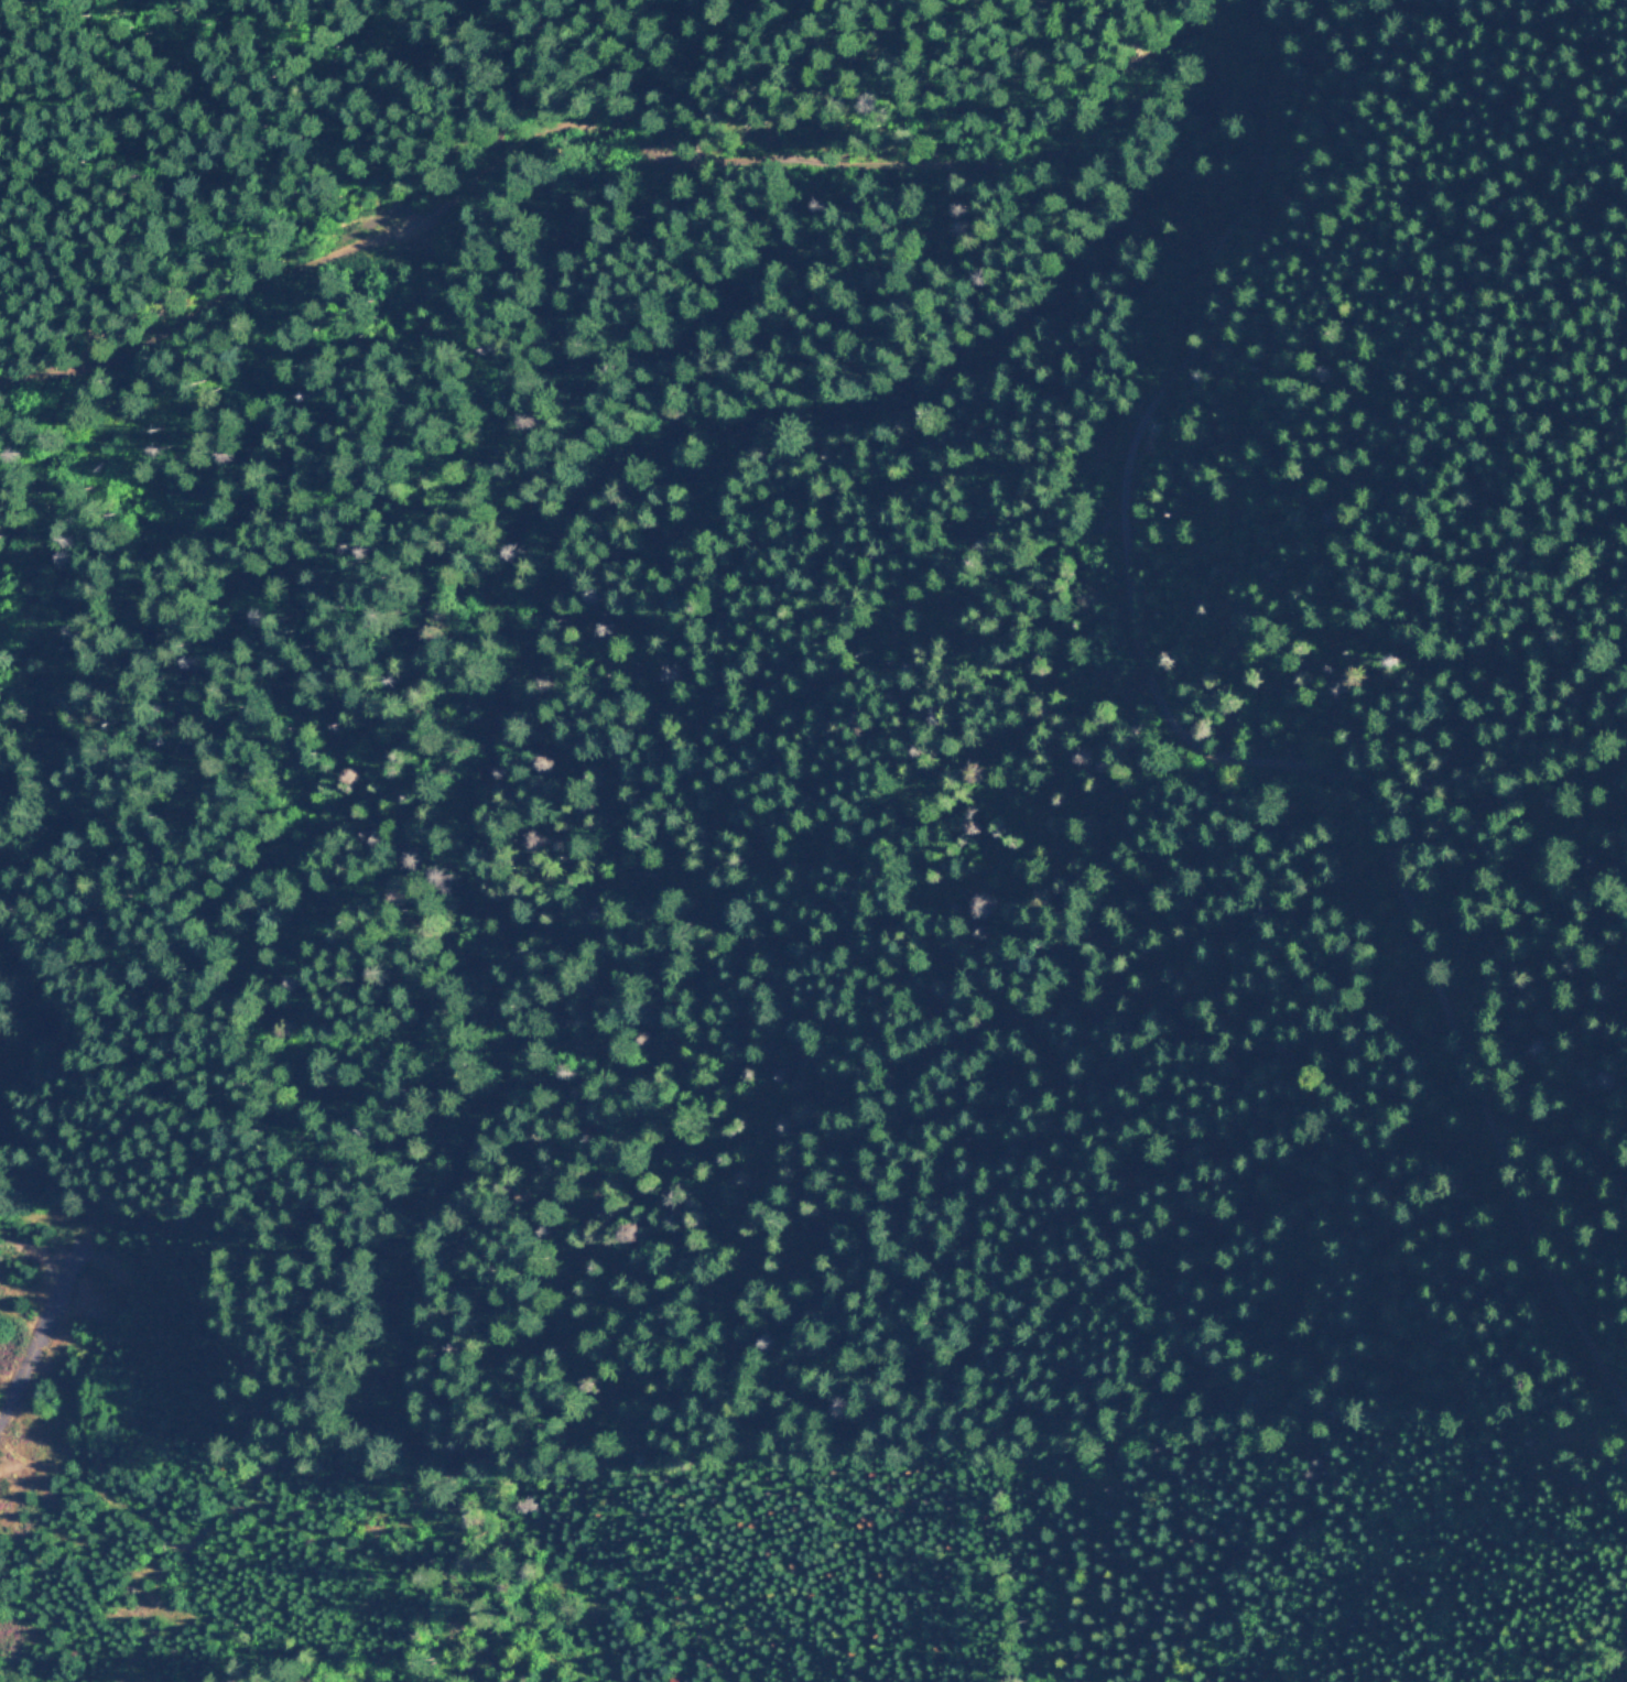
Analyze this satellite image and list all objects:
road: (37, 1324)

